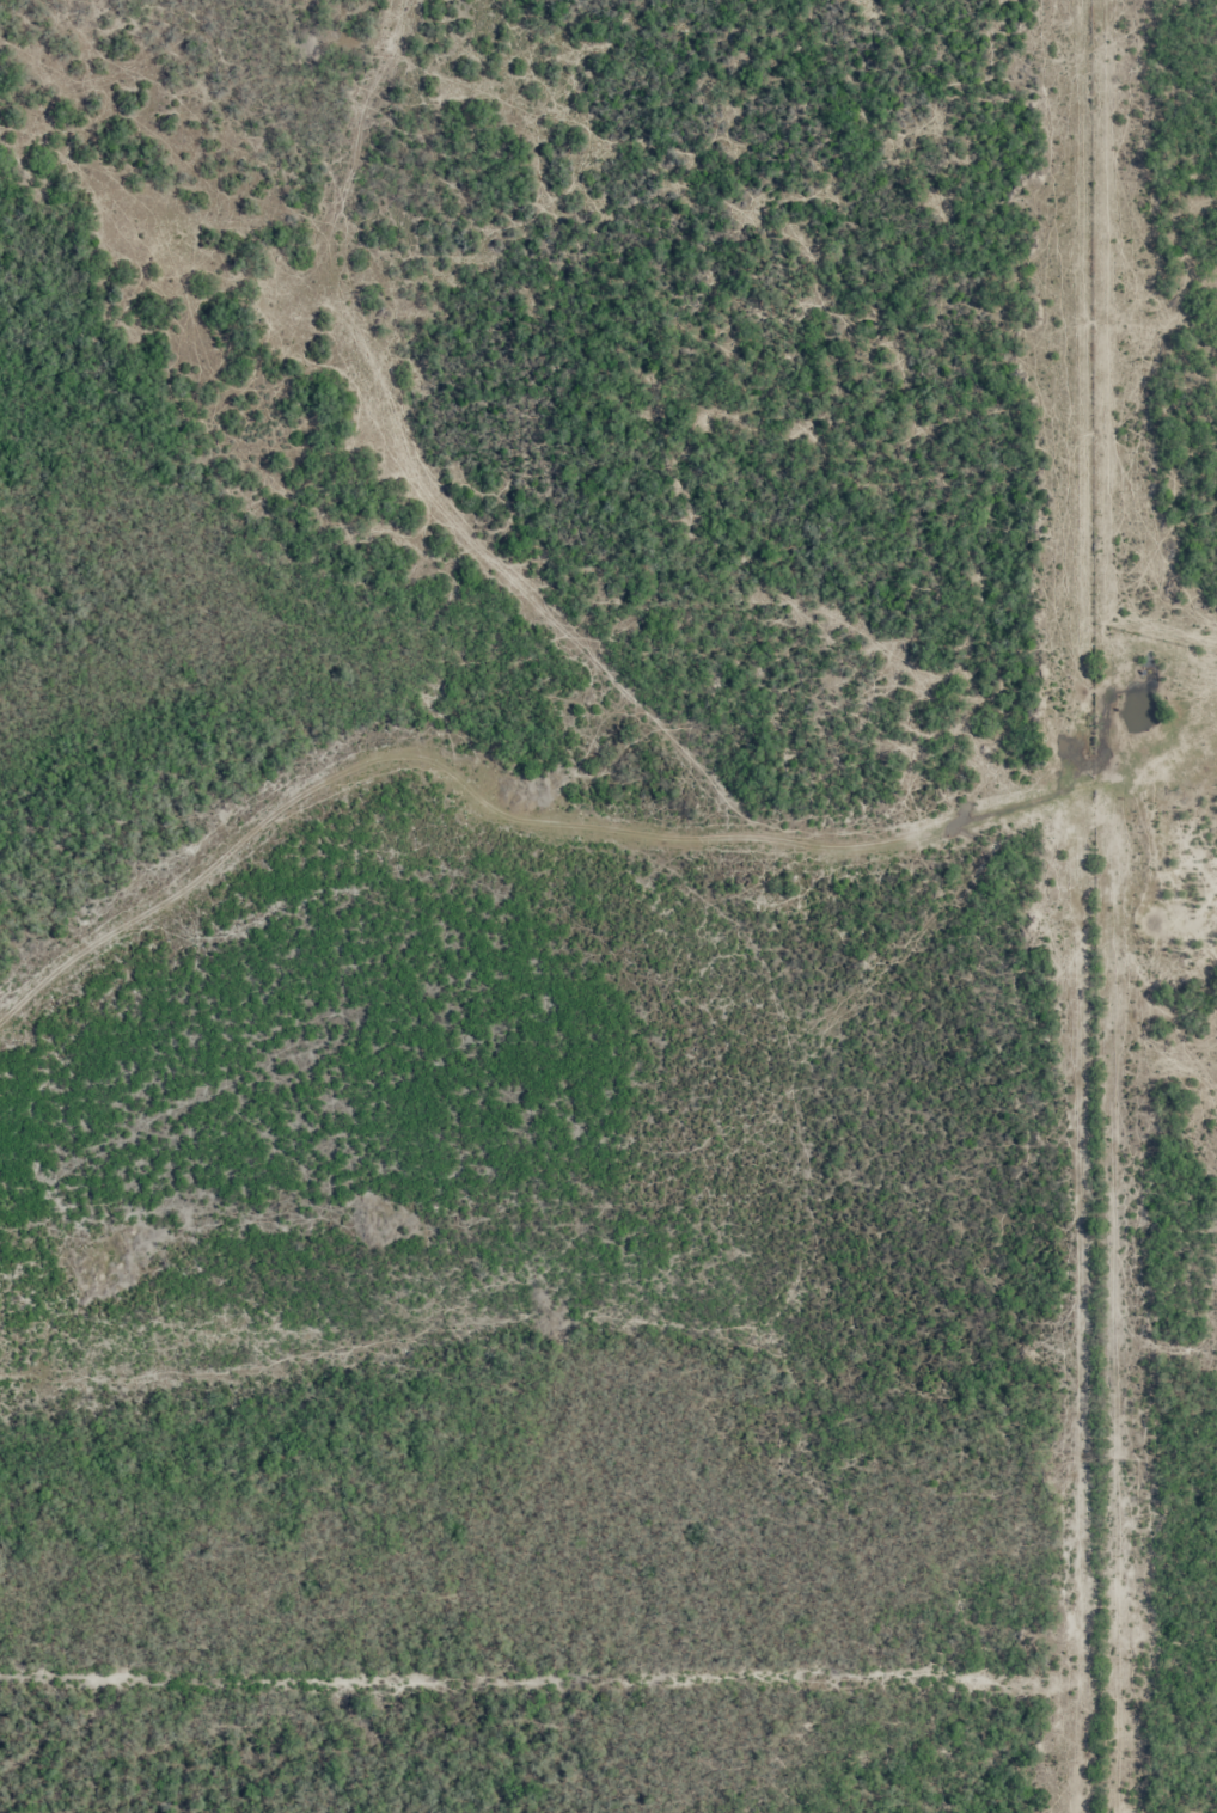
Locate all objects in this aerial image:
road: (966, 510)
road: (1194, 942)
road: (1118, 1304)

